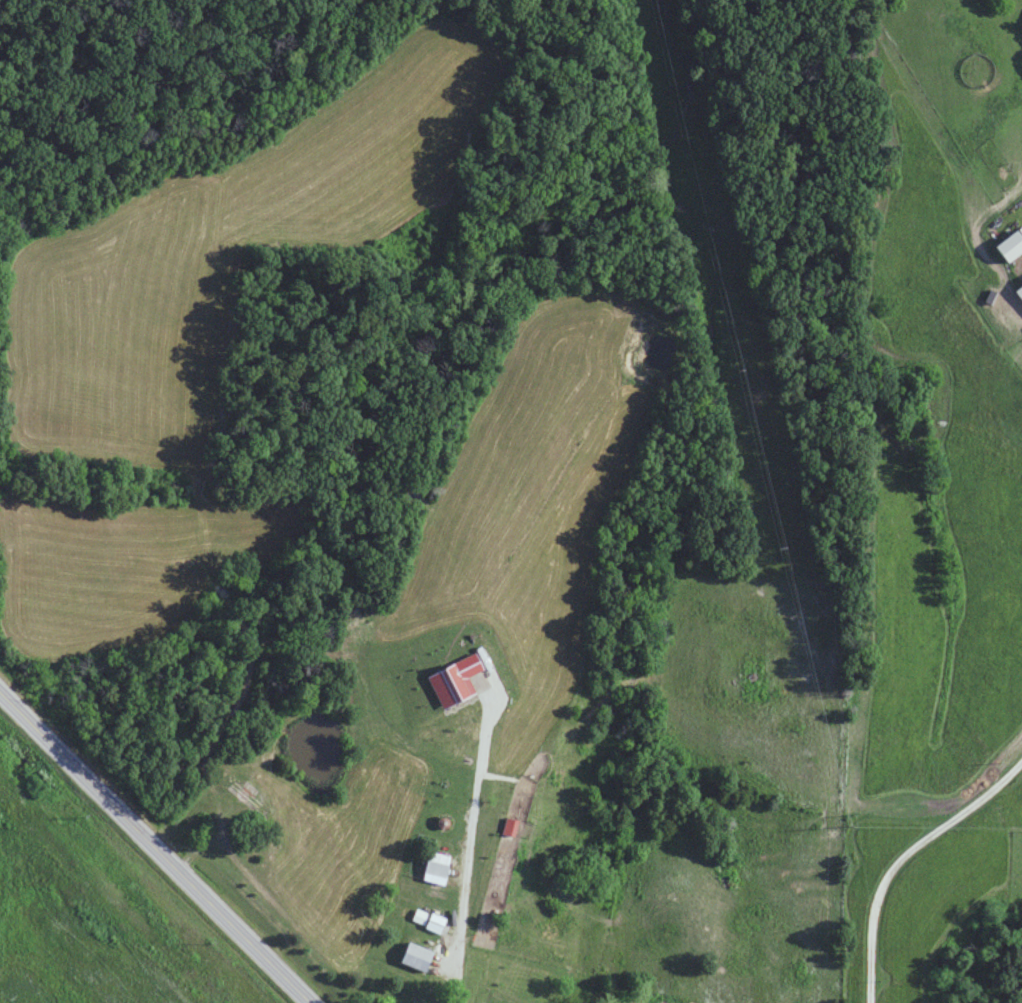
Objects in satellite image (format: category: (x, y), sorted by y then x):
building: (1021, 285)
building: (246, 795)
building: (470, 821)
road: (157, 845)
building: (436, 868)
building: (435, 923)
building: (416, 957)

